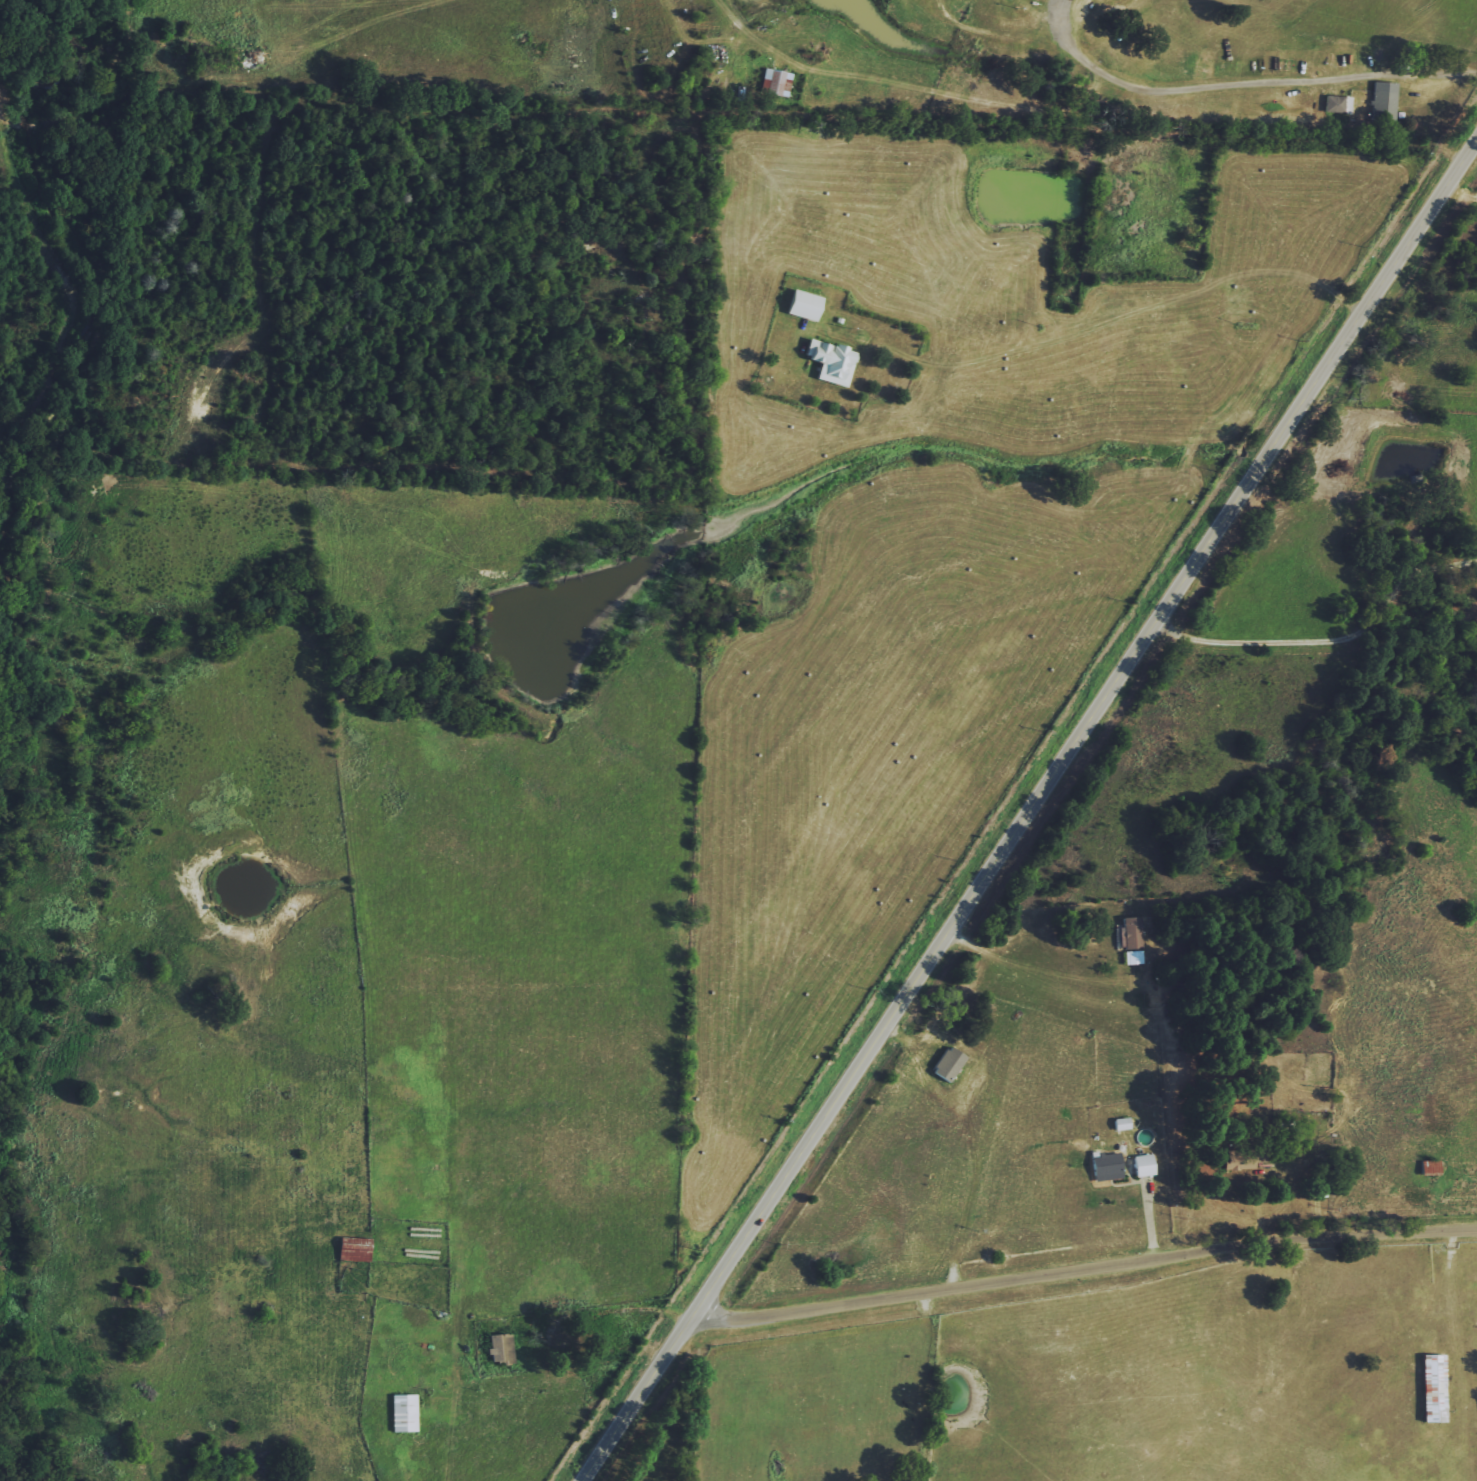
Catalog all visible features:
road: (1245, 76)
building: (775, 82)
building: (1384, 102)
building: (1337, 104)
building: (801, 305)
building: (829, 362)
road: (1329, 635)
road: (1030, 806)
building: (1132, 939)
road: (1034, 968)
building: (947, 1064)
building: (1242, 1157)
building: (1142, 1165)
building: (1106, 1166)
building: (1429, 1166)
road: (1084, 1267)
building: (500, 1348)
building: (1432, 1388)

